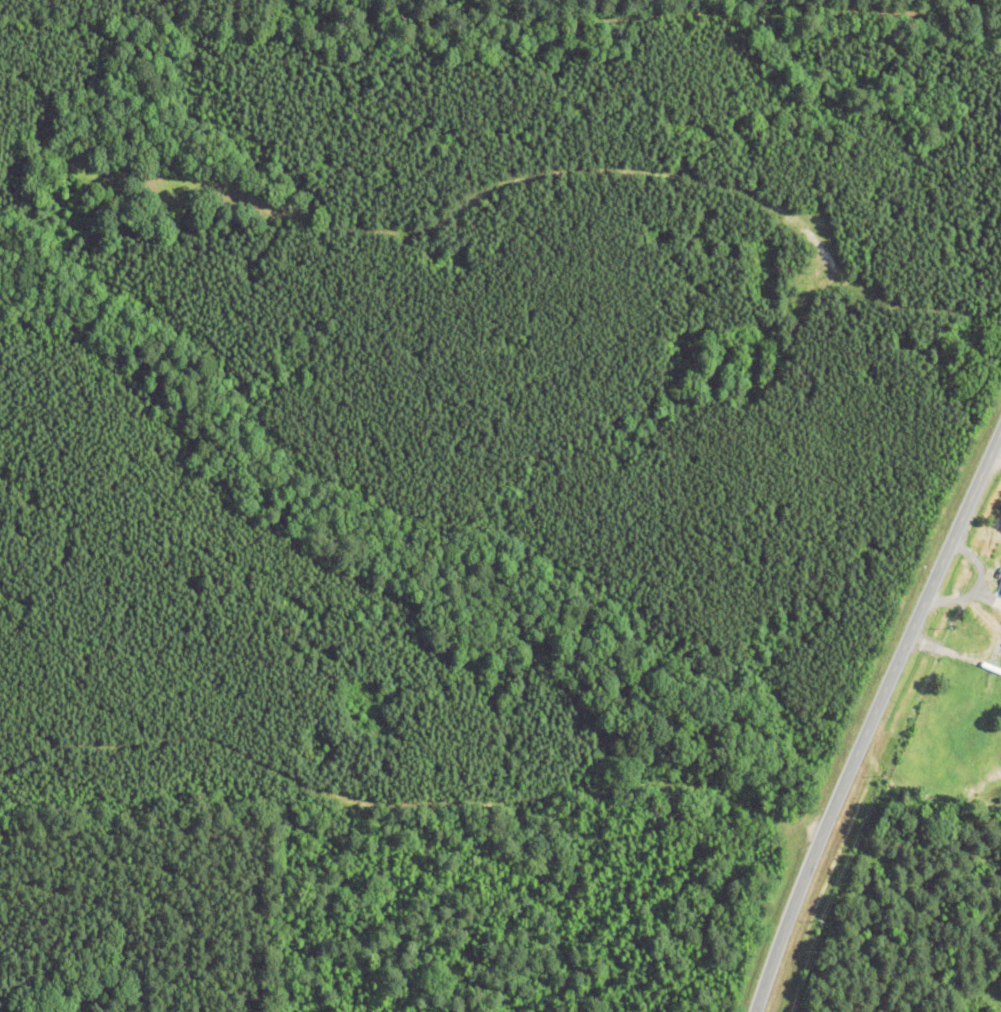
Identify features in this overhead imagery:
road: (994, 456)
road: (870, 715)

